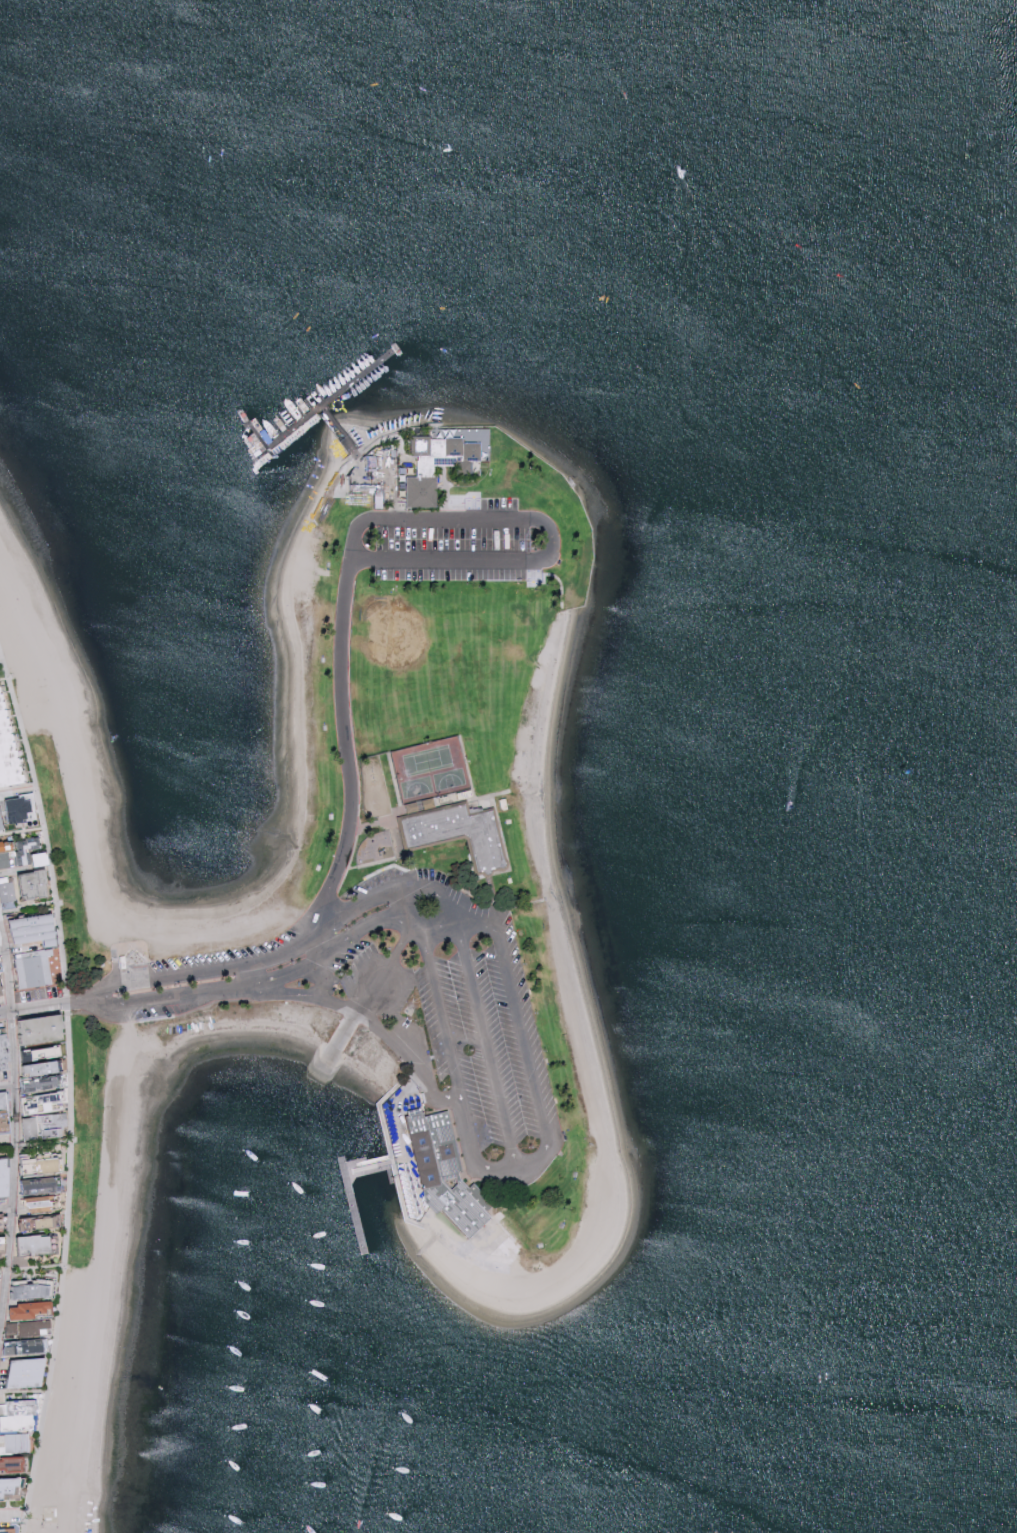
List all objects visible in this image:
pier: (332, 398)
pier: (288, 432)
building: (421, 469)
parking lot: (466, 543)
road: (359, 563)
park: (435, 653)
park: (443, 657)
road: (4, 679)
building: (7, 753)
park: (426, 758)
park: (449, 780)
park: (415, 788)
road: (18, 791)
building: (418, 805)
building: (20, 808)
building: (1, 821)
road: (44, 825)
road: (22, 832)
building: (461, 834)
building: (23, 852)
road: (16, 870)
building: (36, 883)
building: (6, 892)
road: (401, 892)
road: (403, 906)
road: (28, 908)
building: (37, 929)
road: (442, 933)
road: (3, 949)
road: (385, 967)
building: (33, 968)
road: (252, 976)
road: (439, 977)
building: (1, 987)
road: (299, 998)
road: (83, 1000)
road: (33, 1007)
parking lot: (401, 1007)
building: (42, 1028)
road: (527, 1033)
building: (4, 1038)
parking lot: (475, 1045)
building: (41, 1068)
park: (565, 1078)
road: (7, 1080)
building: (43, 1083)
building: (44, 1098)
building: (4, 1099)
building: (4, 1114)
building: (44, 1125)
road: (14, 1131)
road: (69, 1133)
road: (35, 1144)
building: (49, 1164)
pier: (343, 1170)
building: (438, 1175)
building: (5, 1177)
building: (39, 1185)
pier: (349, 1191)
building: (41, 1203)
road: (6, 1209)
building: (37, 1222)
building: (35, 1244)
road: (32, 1267)
building: (34, 1289)
building: (29, 1310)
road: (0, 1332)
building: (29, 1372)
road: (24, 1391)
road: (46, 1399)
building: (19, 1414)
building: (14, 1442)
building: (13, 1464)
building: (10, 1487)
road: (13, 1519)
building: (7, 1530)

